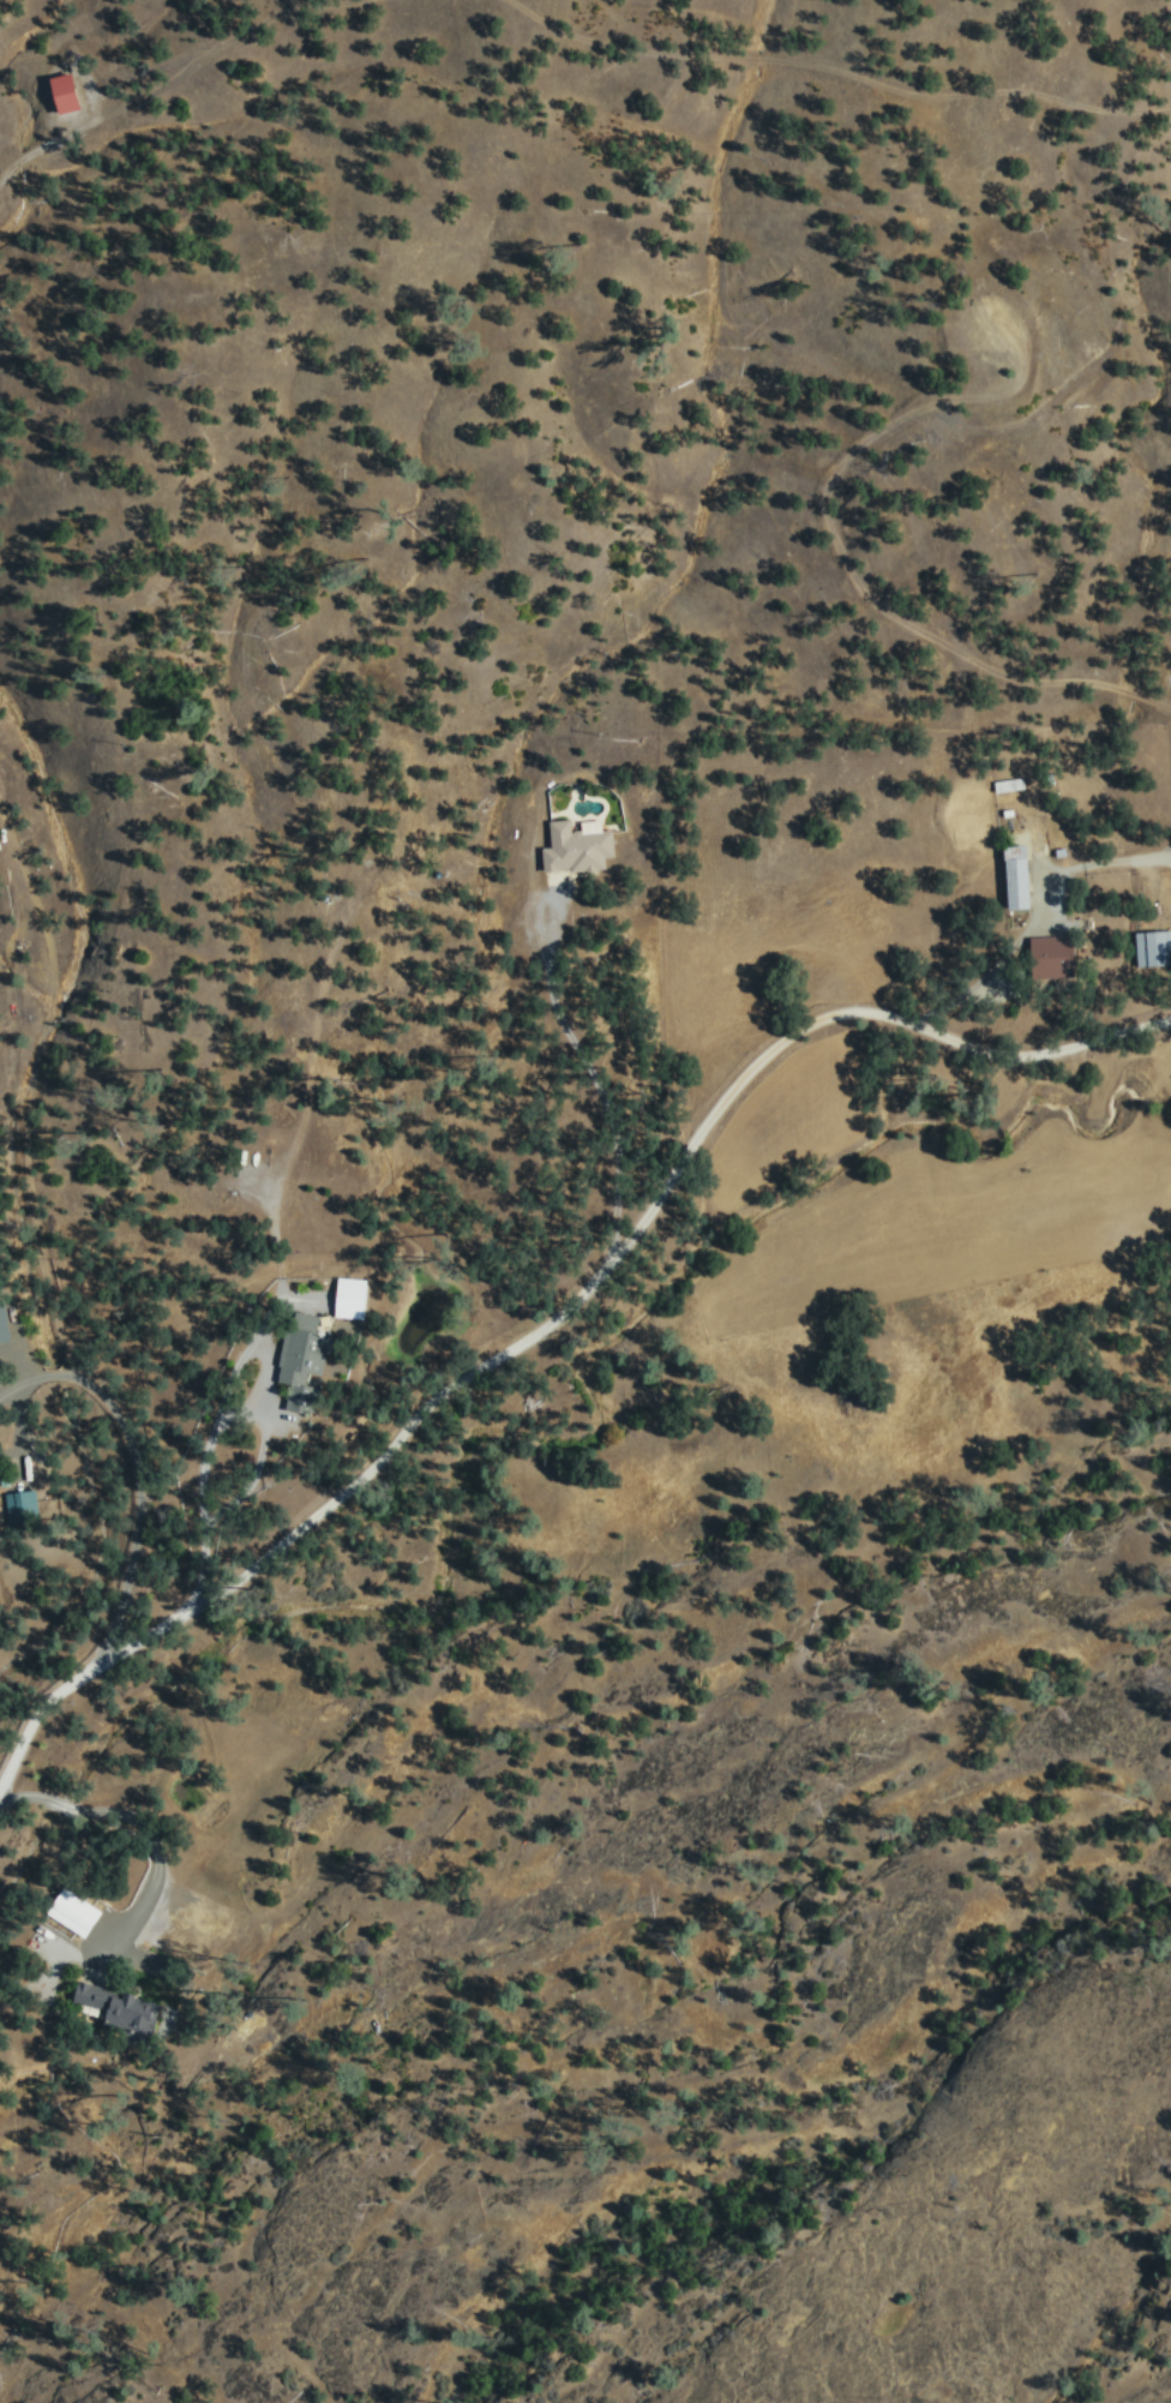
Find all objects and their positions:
road: (1011, 44)
road: (837, 67)
road: (175, 74)
building: (70, 90)
building: (578, 845)
building: (1020, 875)
building: (1154, 947)
building: (1057, 954)
building: (352, 1296)
building: (4, 1323)
road: (566, 1325)
building: (305, 1366)
road: (133, 1473)
building: (23, 1506)
building: (76, 1911)
building: (121, 2008)

